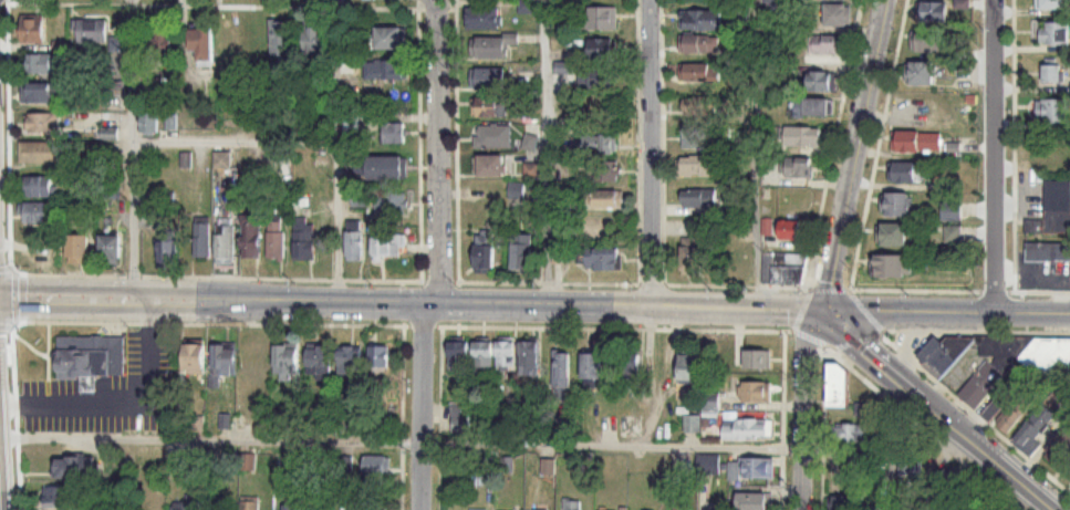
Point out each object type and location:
building: (1052, 4)
building: (529, 6)
building: (776, 6)
building: (934, 12)
building: (838, 14)
building: (484, 18)
building: (600, 19)
building: (31, 29)
building: (91, 31)
building: (700, 31)
building: (1055, 34)
building: (232, 38)
building: (282, 39)
building: (391, 39)
building: (314, 41)
building: (927, 42)
building: (162, 45)
building: (201, 45)
building: (828, 45)
building: (491, 46)
building: (600, 49)
building: (38, 64)
building: (564, 67)
building: (385, 72)
building: (699, 73)
building: (922, 74)
building: (1051, 75)
building: (601, 79)
building: (488, 80)
building: (819, 82)
building: (111, 90)
building: (37, 93)
building: (699, 106)
building: (487, 107)
building: (810, 108)
building: (1052, 113)
building: (41, 124)
building: (148, 124)
building: (395, 135)
building: (494, 137)
building: (802, 137)
building: (696, 138)
road: (304, 140)
building: (531, 143)
building: (916, 143)
road: (132, 149)
road: (544, 149)
road: (438, 150)
road: (652, 152)
building: (40, 154)
road: (757, 155)
road: (859, 155)
road: (996, 156)
building: (221, 160)
building: (490, 166)
building: (697, 166)
building: (386, 168)
building: (798, 168)
building: (532, 170)
building: (606, 173)
building: (906, 174)
building: (38, 187)
building: (517, 190)
building: (607, 200)
building: (698, 202)
building: (391, 205)
building: (896, 205)
building: (1053, 210)
building: (35, 212)
road: (339, 220)
building: (766, 229)
building: (790, 230)
building: (895, 236)
building: (251, 237)
building: (303, 239)
building: (201, 240)
building: (276, 240)
building: (225, 243)
building: (354, 247)
building: (388, 247)
building: (77, 249)
building: (110, 250)
building: (484, 251)
building: (1048, 252)
building: (522, 253)
building: (166, 254)
building: (692, 260)
building: (602, 261)
building: (894, 267)
building: (783, 269)
road: (414, 300)
traffic signals: (828, 311)
road: (948, 312)
building: (506, 355)
building: (458, 356)
building: (91, 357)
building: (193, 358)
building: (484, 358)
building: (529, 360)
building: (757, 360)
building: (222, 361)
building: (318, 361)
building: (378, 361)
building: (284, 362)
building: (349, 362)
building: (1050, 363)
building: (688, 364)
building: (253, 366)
building: (592, 366)
building: (630, 371)
building: (991, 374)
building: (561, 376)
building: (838, 385)
road: (906, 386)
building: (755, 392)
road: (420, 405)
road: (803, 407)
building: (1009, 407)
building: (871, 409)
building: (461, 418)
building: (692, 424)
building: (745, 429)
building: (1035, 431)
building: (851, 433)
road: (489, 444)
building: (1059, 450)
building: (153, 462)
building: (908, 467)
building: (74, 468)
building: (752, 469)
road: (401, 478)
road: (1021, 483)
building: (947, 485)
road: (438, 486)
road: (19, 488)
road: (780, 493)
building: (55, 496)
building: (149, 500)
road: (820, 500)
building: (755, 501)
building: (844, 502)
building: (186, 506)
building: (249, 506)
building: (572, 506)
building: (289, 508)
building: (681, 508)
road: (0, 509)
building: (879, 509)

